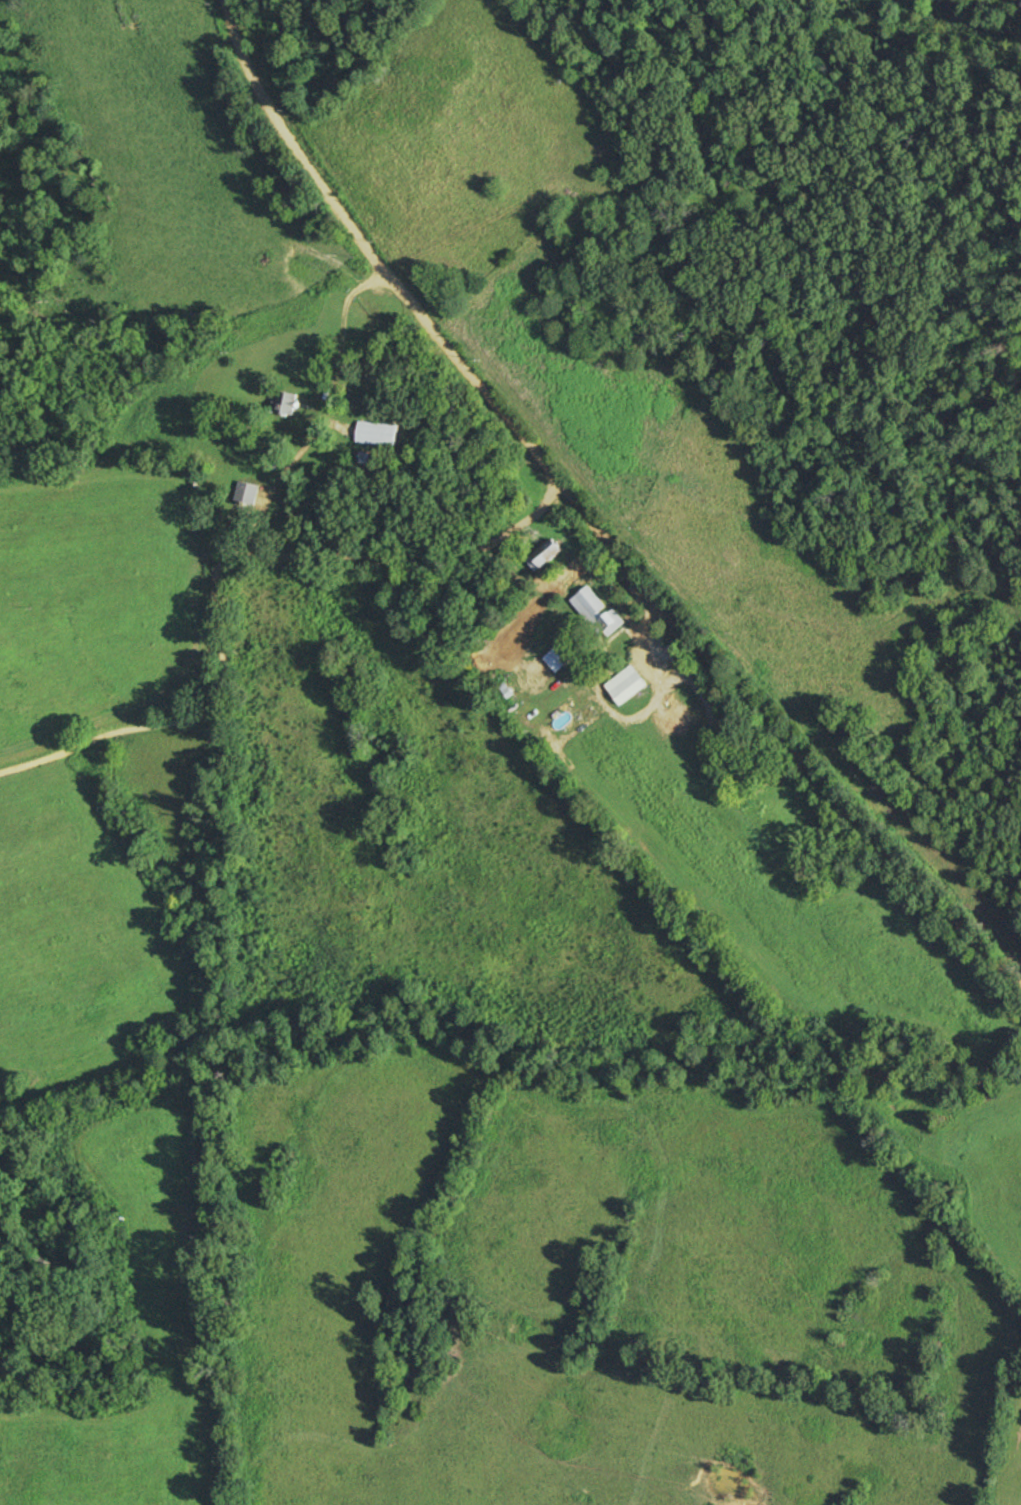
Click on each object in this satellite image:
building: (285, 402)
building: (378, 433)
road: (587, 507)
building: (548, 552)
road: (228, 565)
building: (612, 621)
building: (566, 651)
building: (630, 682)

